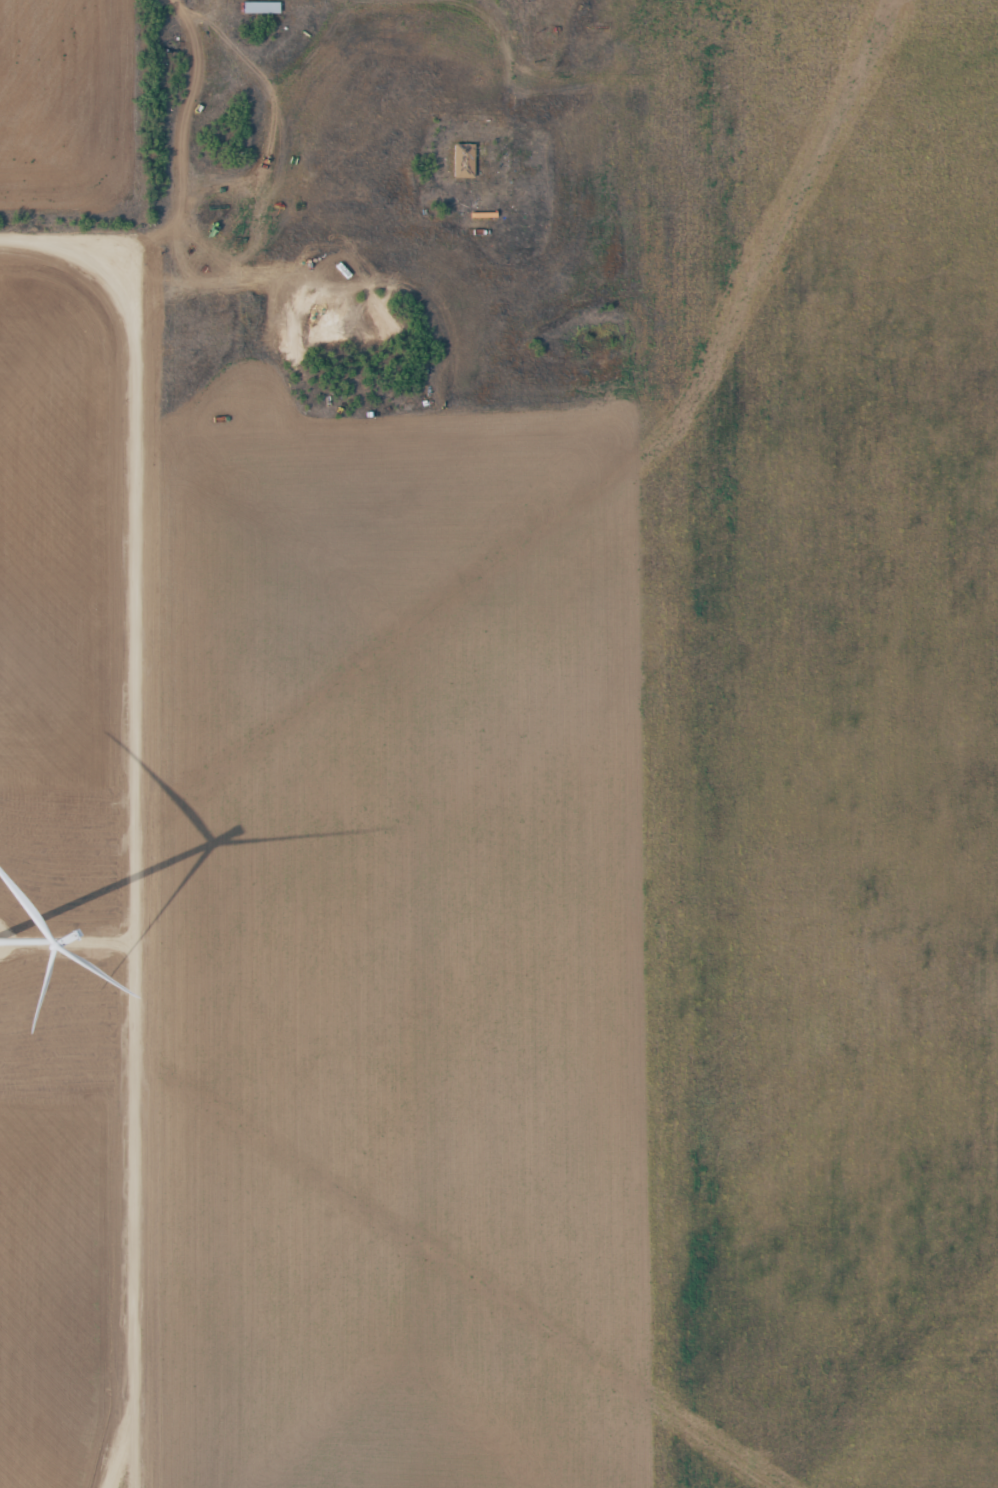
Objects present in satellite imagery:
building: (258, 7)
road: (487, 99)
building: (461, 160)

